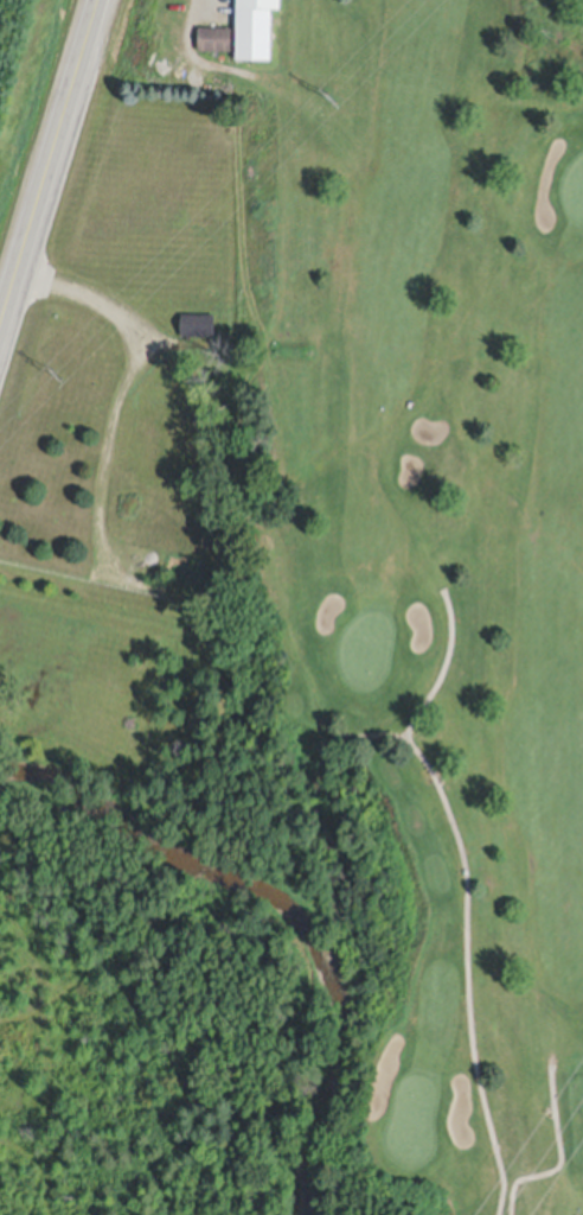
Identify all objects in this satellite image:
building: (255, 28)
building: (216, 39)
power tower: (331, 97)
road: (50, 167)
building: (198, 325)
road: (133, 355)
power tower: (57, 374)
park: (451, 596)

